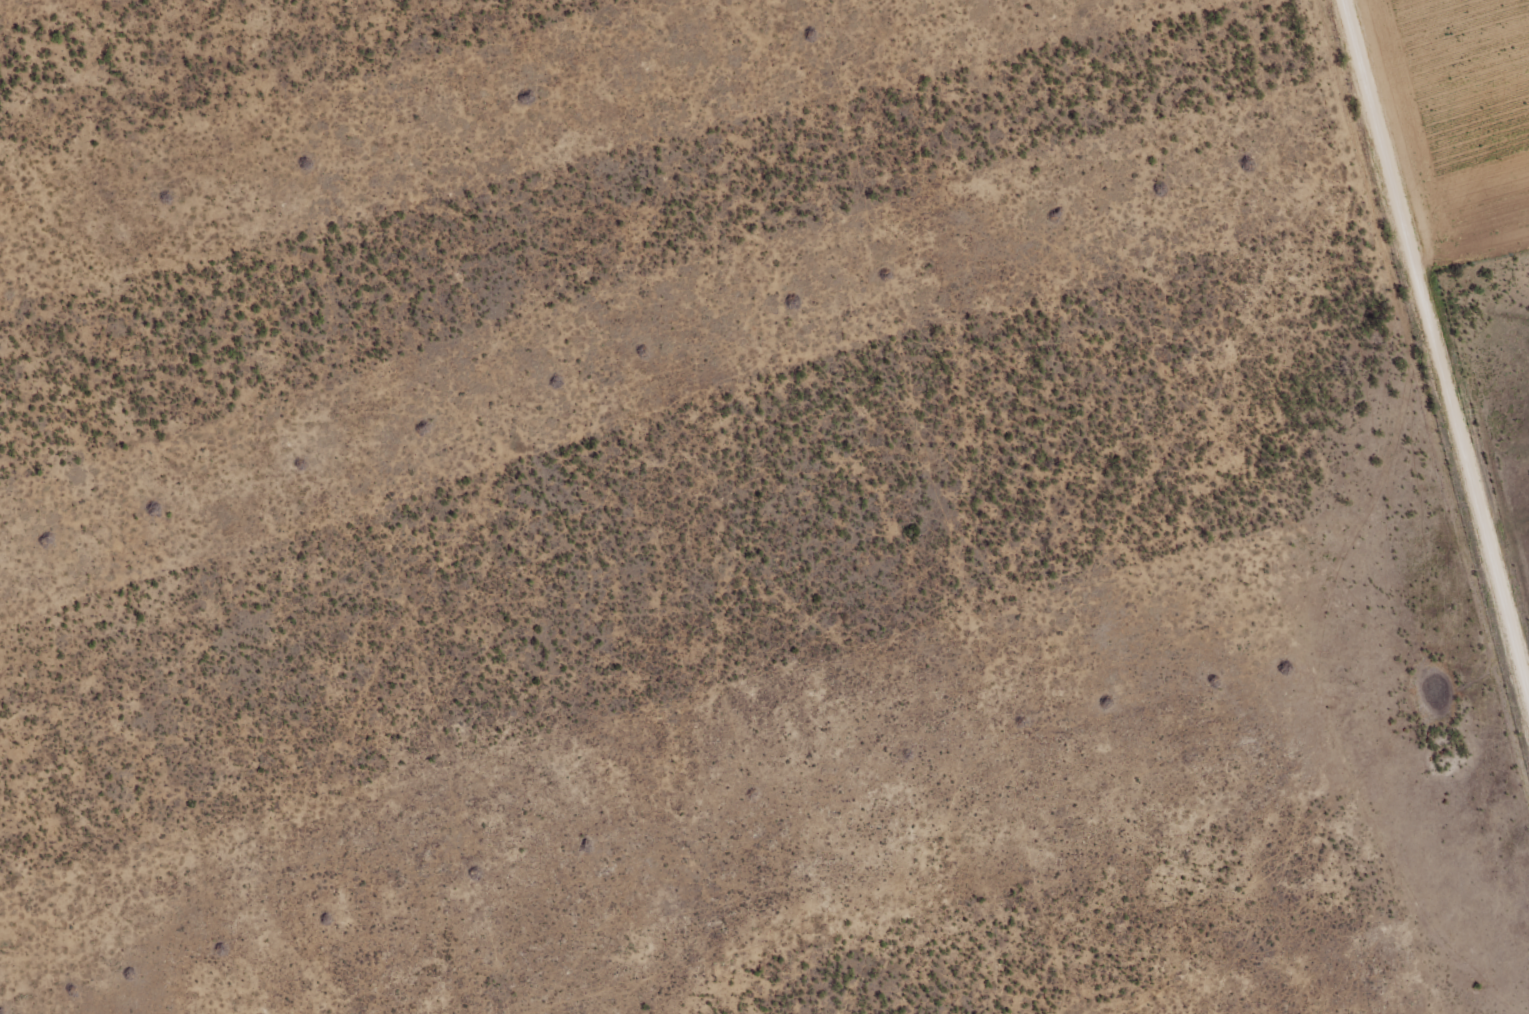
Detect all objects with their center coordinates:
road: (1467, 279)
road: (1422, 393)

